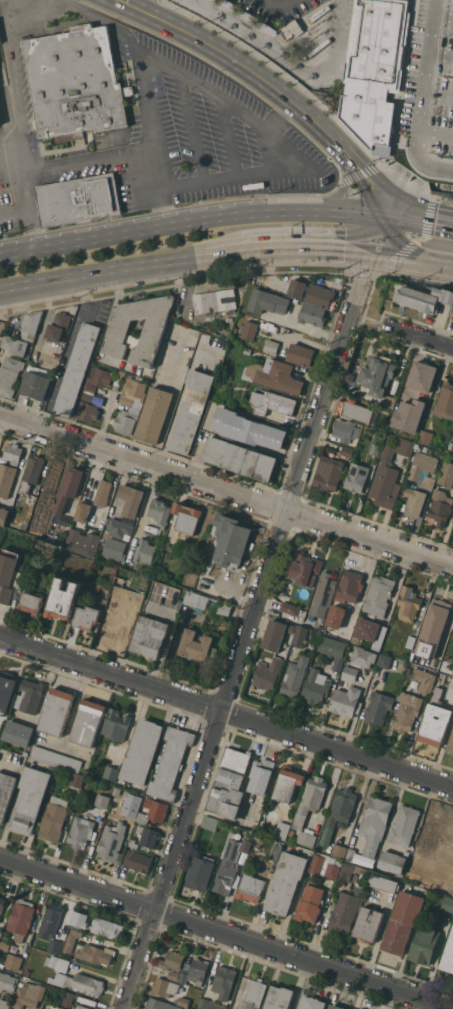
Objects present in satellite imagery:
building: (230, 4)
road: (278, 5)
road: (6, 9)
road: (25, 9)
building: (249, 16)
road: (444, 16)
building: (268, 28)
building: (291, 29)
building: (0, 42)
road: (441, 55)
road: (240, 60)
road: (287, 63)
road: (427, 65)
building: (402, 74)
road: (187, 77)
building: (76, 82)
road: (438, 95)
road: (282, 115)
road: (195, 128)
road: (21, 133)
road: (436, 134)
road: (232, 138)
road: (83, 161)
road: (425, 161)
road: (223, 179)
road: (364, 180)
road: (154, 188)
road: (342, 190)
building: (79, 200)
road: (14, 209)
road: (344, 215)
road: (234, 217)
traffic signals: (384, 218)
road: (407, 220)
road: (441, 223)
road: (357, 236)
road: (81, 242)
road: (400, 245)
road: (282, 247)
road: (349, 249)
traffic signals: (372, 250)
road: (223, 251)
road: (401, 254)
road: (441, 260)
road: (103, 270)
building: (297, 287)
building: (320, 295)
building: (424, 298)
building: (215, 301)
building: (267, 301)
building: (312, 314)
building: (229, 319)
building: (30, 325)
building: (58, 325)
building: (2, 327)
building: (120, 327)
building: (250, 329)
road: (417, 335)
building: (15, 344)
building: (248, 350)
building: (290, 352)
road: (68, 353)
building: (77, 369)
building: (378, 374)
building: (10, 375)
building: (274, 375)
building: (97, 379)
building: (35, 385)
building: (418, 390)
building: (133, 392)
building: (87, 396)
building: (389, 401)
building: (445, 401)
building: (273, 403)
building: (190, 410)
building: (87, 411)
building: (357, 411)
building: (154, 415)
building: (126, 420)
road: (167, 420)
road: (103, 421)
building: (452, 425)
building: (404, 428)
building: (249, 429)
building: (346, 430)
building: (426, 436)
building: (450, 444)
building: (375, 449)
building: (347, 450)
building: (13, 453)
building: (240, 458)
building: (424, 469)
building: (31, 473)
building: (329, 473)
building: (446, 474)
building: (389, 475)
building: (356, 477)
building: (6, 479)
building: (50, 480)
building: (69, 487)
road: (226, 490)
building: (102, 492)
building: (131, 499)
building: (414, 501)
building: (439, 507)
building: (83, 511)
building: (159, 511)
building: (3, 515)
building: (187, 517)
building: (119, 528)
building: (452, 529)
building: (92, 539)
building: (232, 540)
building: (114, 548)
building: (144, 551)
building: (305, 569)
building: (7, 573)
building: (120, 581)
building: (21, 584)
building: (350, 586)
building: (323, 595)
building: (378, 595)
building: (63, 599)
building: (201, 600)
building: (32, 601)
building: (408, 603)
building: (225, 608)
building: (292, 609)
building: (438, 612)
building: (336, 616)
building: (86, 617)
building: (117, 627)
building: (452, 627)
building: (367, 628)
road: (249, 630)
building: (150, 636)
building: (275, 636)
building: (300, 636)
building: (411, 641)
building: (198, 646)
building: (333, 650)
building: (437, 651)
building: (364, 657)
building: (384, 660)
building: (350, 673)
building: (267, 674)
building: (452, 674)
building: (295, 676)
building: (424, 680)
building: (448, 681)
building: (316, 686)
building: (6, 691)
building: (31, 695)
building: (346, 701)
building: (378, 707)
building: (56, 711)
building: (407, 711)
road: (226, 712)
building: (435, 719)
building: (88, 722)
building: (116, 724)
building: (18, 733)
building: (450, 743)
building: (142, 751)
building: (45, 755)
building: (69, 762)
building: (170, 763)
building: (111, 773)
building: (260, 775)
building: (76, 779)
building: (229, 783)
building: (287, 784)
building: (5, 792)
building: (30, 800)
building: (102, 800)
building: (134, 806)
building: (153, 811)
building: (302, 811)
building: (338, 812)
building: (54, 819)
building: (210, 822)
building: (374, 823)
building: (404, 825)
building: (282, 829)
building: (81, 830)
building: (291, 832)
building: (433, 833)
building: (257, 835)
building: (148, 836)
building: (112, 842)
building: (133, 844)
building: (337, 850)
building: (276, 852)
building: (349, 854)
building: (449, 854)
building: (137, 861)
building: (392, 861)
building: (324, 865)
building: (230, 866)
building: (201, 871)
building: (352, 871)
building: (452, 878)
building: (286, 882)
building: (384, 883)
building: (250, 887)
building: (447, 903)
building: (309, 904)
building: (2, 905)
building: (343, 913)
building: (21, 919)
building: (51, 920)
building: (80, 920)
building: (402, 921)
building: (368, 924)
building: (107, 927)
road: (226, 933)
building: (71, 940)
building: (425, 945)
building: (54, 946)
building: (96, 954)
building: (448, 954)
building: (171, 960)
building: (13, 961)
building: (57, 963)
building: (26, 971)
building: (194, 971)
building: (174, 975)
building: (224, 981)
building: (7, 982)
building: (80, 982)
building: (165, 987)
building: (255, 993)
building: (28, 994)
building: (69, 996)
building: (279, 998)
building: (183, 1001)
building: (204, 1003)
building: (312, 1003)
building: (4, 1004)
building: (158, 1004)
building: (216, 1005)
road: (452, 1006)
building: (56, 1007)
building: (83, 1007)
building: (336, 1007)

